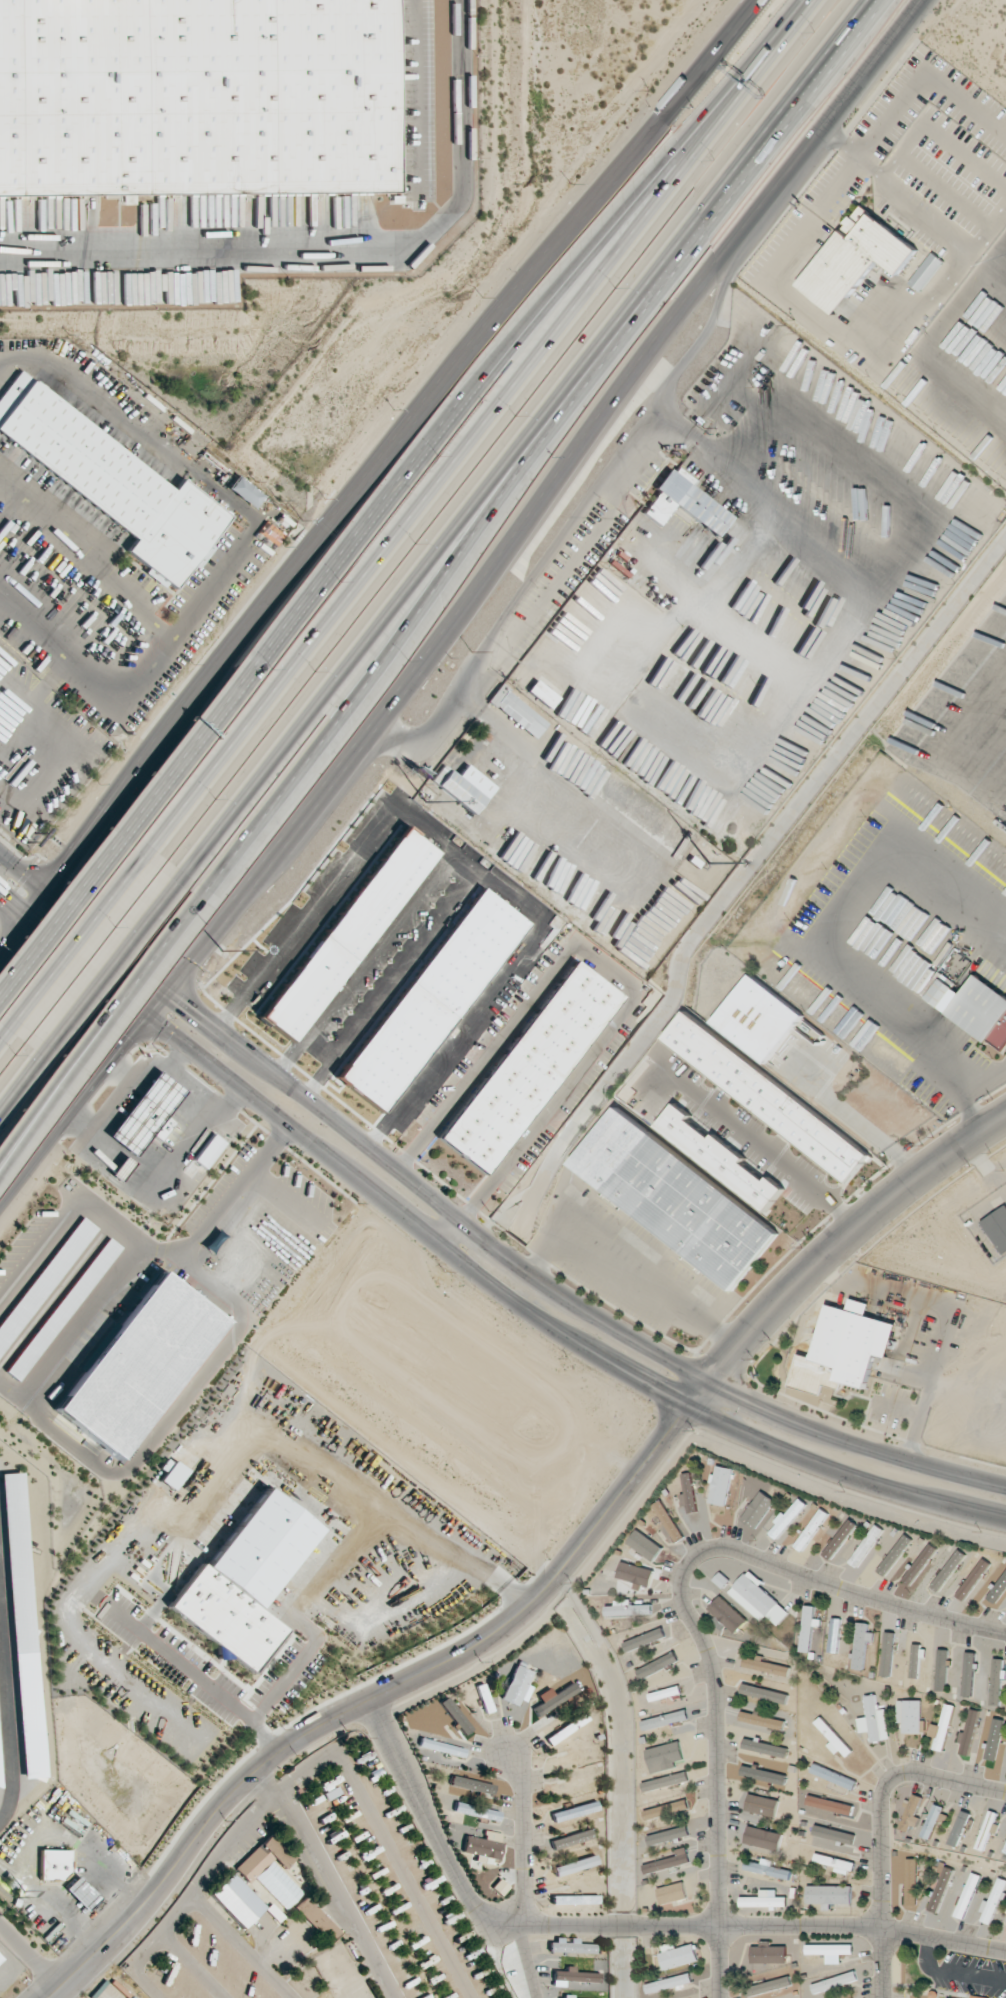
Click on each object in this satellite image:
road: (921, 70)
building: (197, 96)
road: (936, 137)
road: (854, 153)
road: (949, 230)
road: (561, 237)
building: (855, 259)
road: (722, 267)
road: (773, 274)
road: (481, 431)
road: (444, 438)
road: (526, 443)
road: (550, 451)
building: (116, 485)
building: (245, 491)
building: (684, 502)
road: (567, 534)
road: (208, 684)
building: (542, 694)
building: (517, 711)
building: (466, 788)
road: (261, 866)
traffic signals: (67, 867)
road: (23, 874)
traffic signals: (63, 908)
road: (124, 909)
road: (61, 915)
road: (23, 925)
road: (85, 948)
road: (113, 970)
traffic signals: (124, 997)
traffic signals: (188, 1007)
road: (76, 1009)
building: (974, 1009)
building: (758, 1018)
road: (99, 1024)
traffic signals: (129, 1040)
road: (9, 1044)
building: (530, 1068)
road: (23, 1082)
building: (769, 1096)
building: (144, 1113)
road: (860, 1125)
building: (208, 1151)
road: (760, 1152)
building: (718, 1157)
building: (674, 1198)
building: (997, 1228)
road: (448, 1232)
road: (847, 1236)
road: (493, 1246)
road: (467, 1268)
road: (628, 1271)
building: (44, 1279)
building: (61, 1309)
building: (844, 1349)
building: (136, 1363)
road: (330, 1472)
building: (172, 1475)
building: (720, 1485)
building: (688, 1492)
building: (758, 1509)
building: (787, 1518)
building: (668, 1520)
building: (811, 1529)
building: (839, 1539)
building: (644, 1545)
building: (866, 1545)
building: (894, 1555)
building: (919, 1564)
building: (948, 1570)
building: (635, 1574)
building: (243, 1579)
building: (973, 1579)
building: (997, 1590)
building: (758, 1599)
building: (628, 1608)
road: (687, 1608)
building: (727, 1614)
building: (23, 1625)
building: (807, 1629)
building: (834, 1635)
building: (645, 1639)
building: (861, 1645)
building: (887, 1653)
building: (915, 1660)
building: (658, 1665)
building: (766, 1666)
building: (941, 1669)
building: (968, 1674)
road: (196, 1675)
building: (996, 1681)
building: (517, 1686)
road: (385, 1692)
building: (764, 1693)
building: (554, 1699)
building: (454, 1715)
building: (909, 1715)
building: (664, 1719)
building: (762, 1720)
building: (874, 1720)
building: (942, 1727)
building: (566, 1728)
building: (968, 1732)
building: (834, 1738)
building: (993, 1742)
building: (665, 1756)
road: (311, 1767)
building: (763, 1775)
building: (833, 1776)
building: (666, 1781)
building: (466, 1783)
building: (762, 1805)
building: (830, 1805)
building: (666, 1809)
building: (476, 1811)
building: (574, 1811)
building: (913, 1814)
building: (936, 1819)
road: (876, 1825)
building: (961, 1828)
building: (833, 1834)
building: (668, 1835)
building: (763, 1838)
building: (570, 1839)
building: (483, 1845)
building: (1005, 1850)
building: (668, 1861)
building: (836, 1863)
building: (54, 1864)
building: (575, 1865)
building: (767, 1868)
building: (910, 1869)
building: (270, 1870)
road: (520, 1874)
road: (327, 1882)
building: (940, 1889)
building: (81, 1893)
building: (672, 1893)
building: (829, 1894)
building: (966, 1895)
building: (575, 1899)
building: (236, 1900)
building: (992, 1901)
building: (763, 1902)
building: (315, 1919)
road: (619, 1930)
building: (570, 1946)
road: (239, 1947)
building: (830, 1951)
building: (768, 1953)
building: (677, 1954)
building: (0, 1959)
road: (191, 1966)
road: (953, 1974)
building: (573, 1976)
building: (834, 1982)
building: (668, 1983)
building: (768, 1986)
building: (977, 1997)

